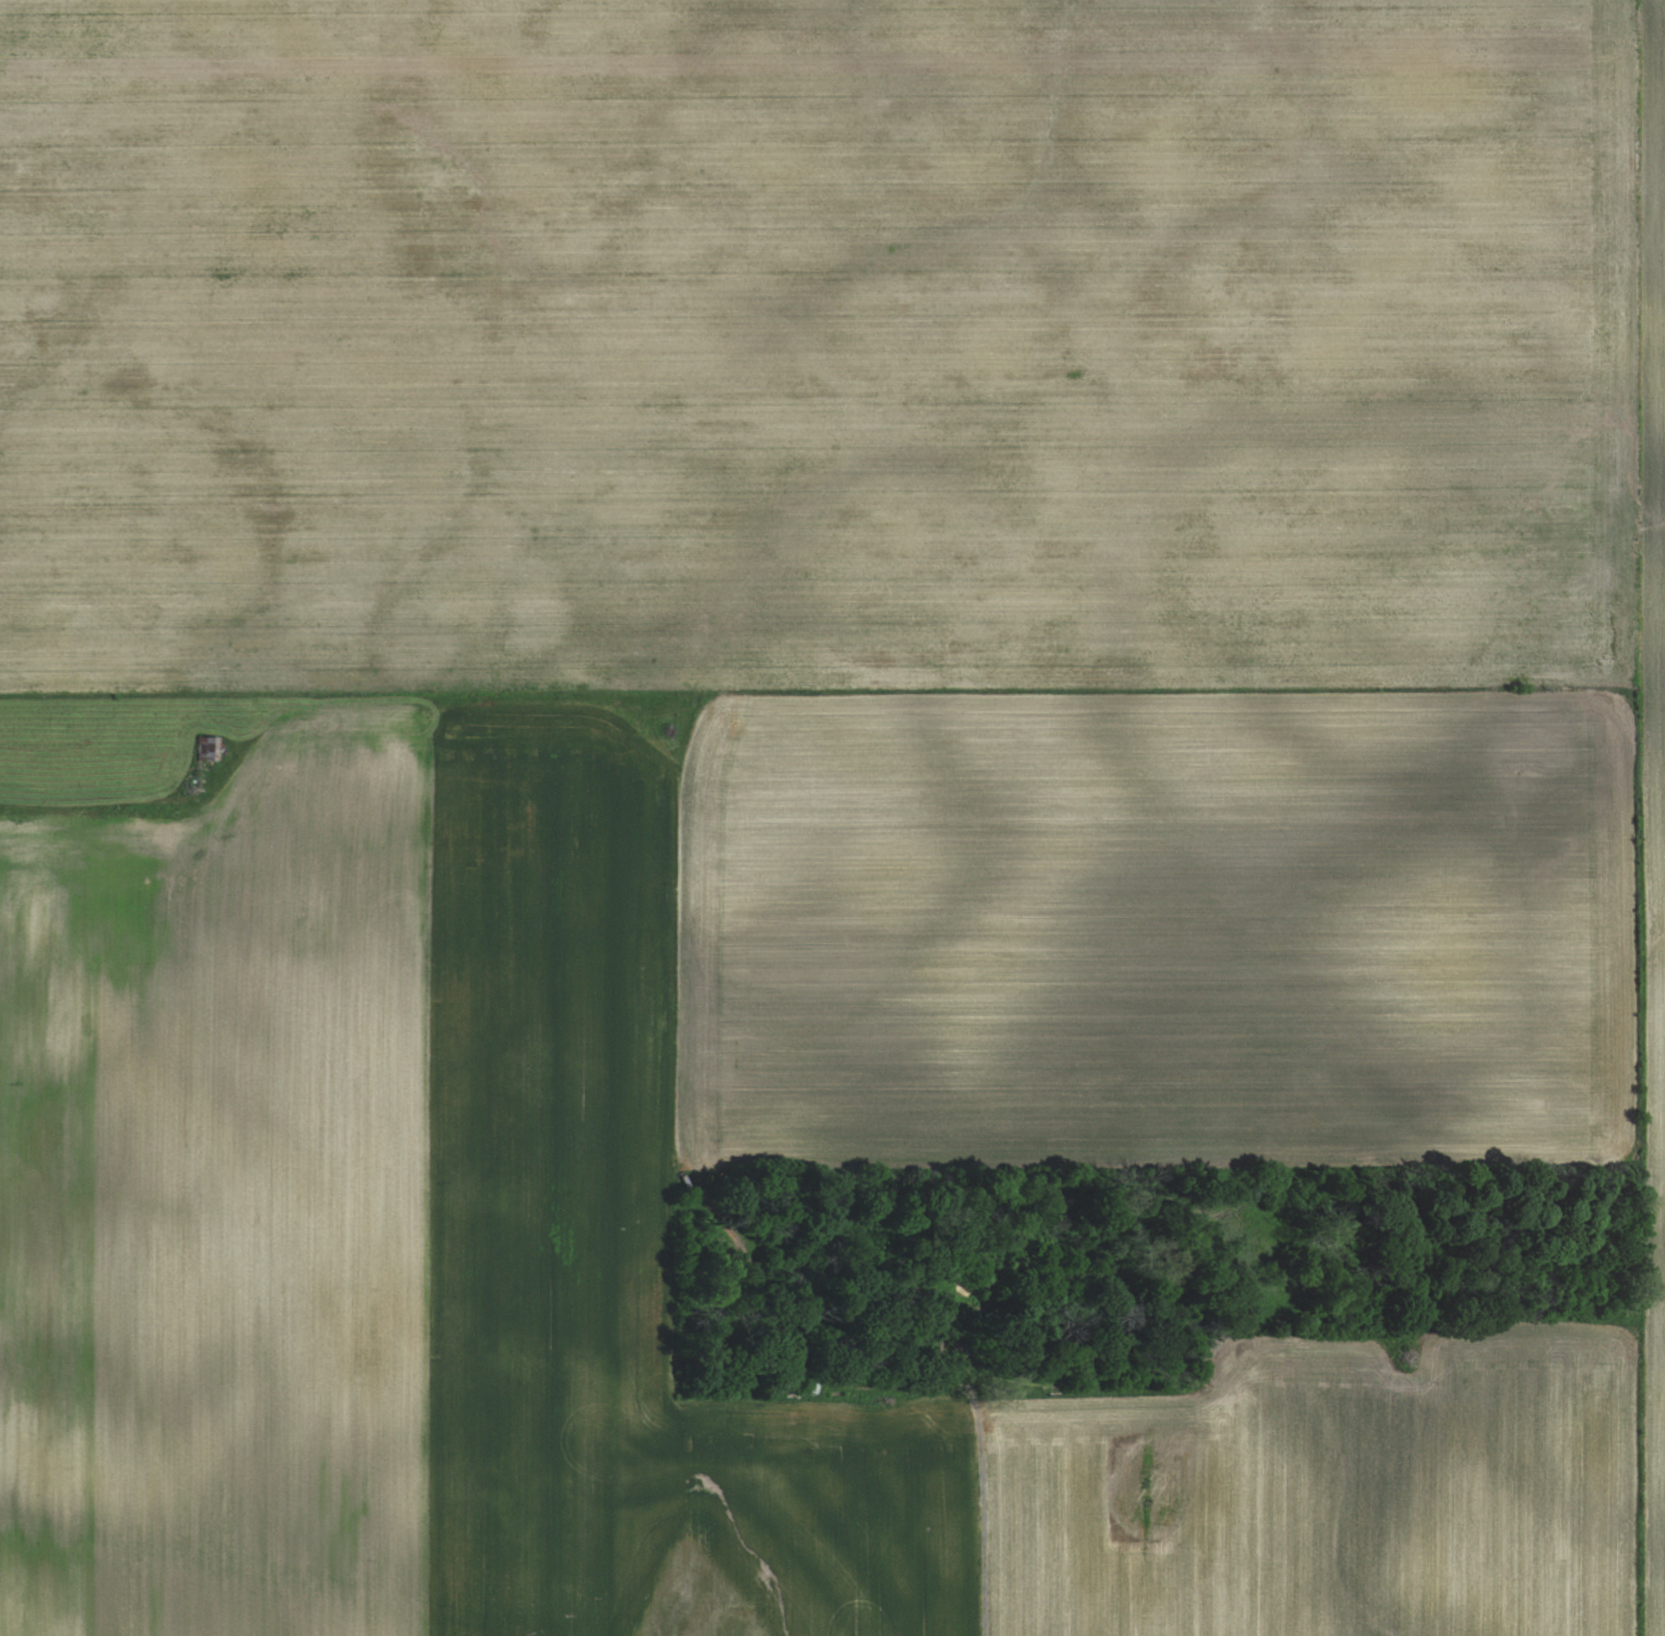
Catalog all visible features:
building: (206, 749)

